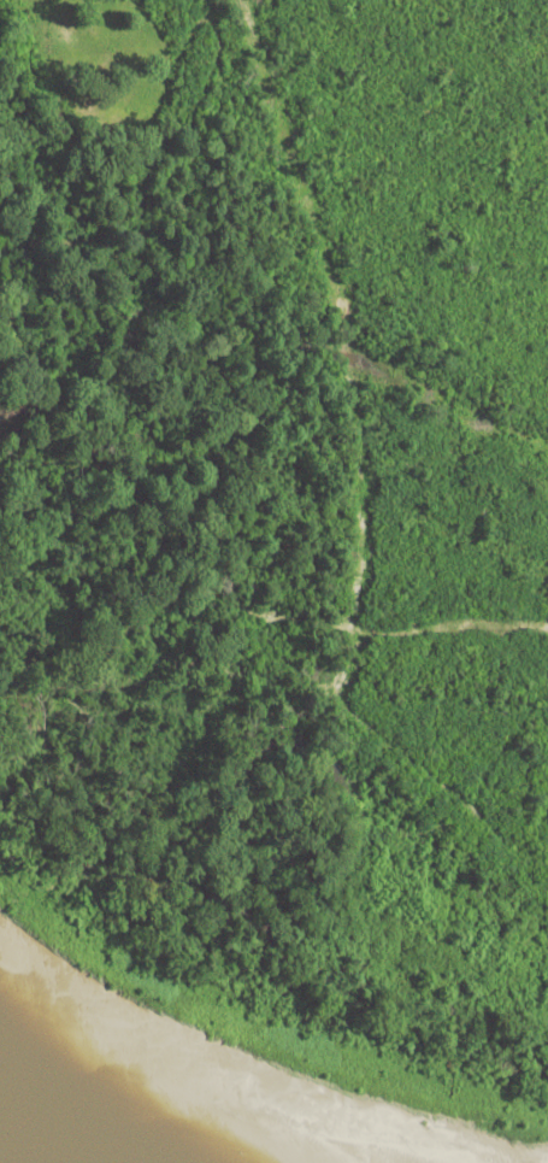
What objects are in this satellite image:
river: (55, 1121)

